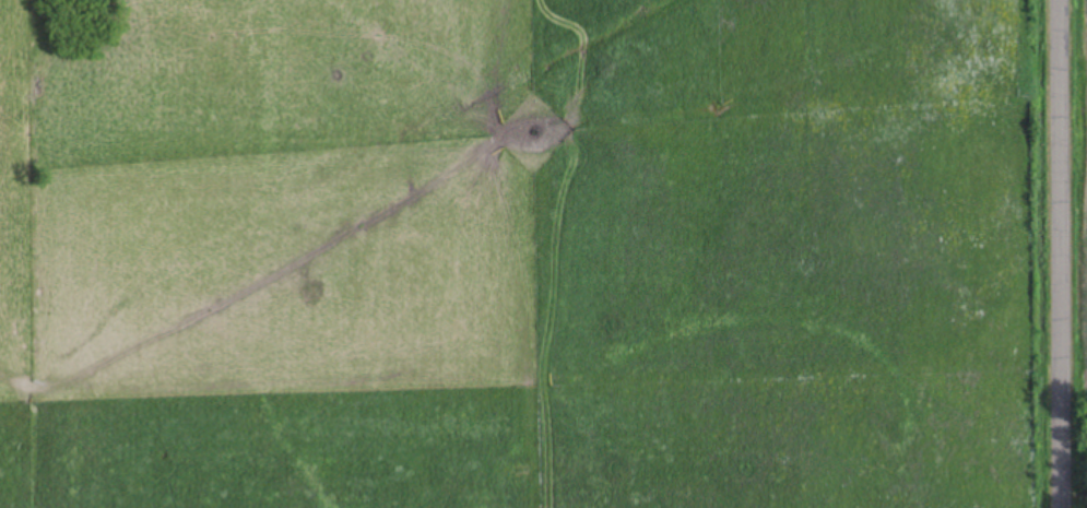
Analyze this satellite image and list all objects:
road: (1061, 253)

